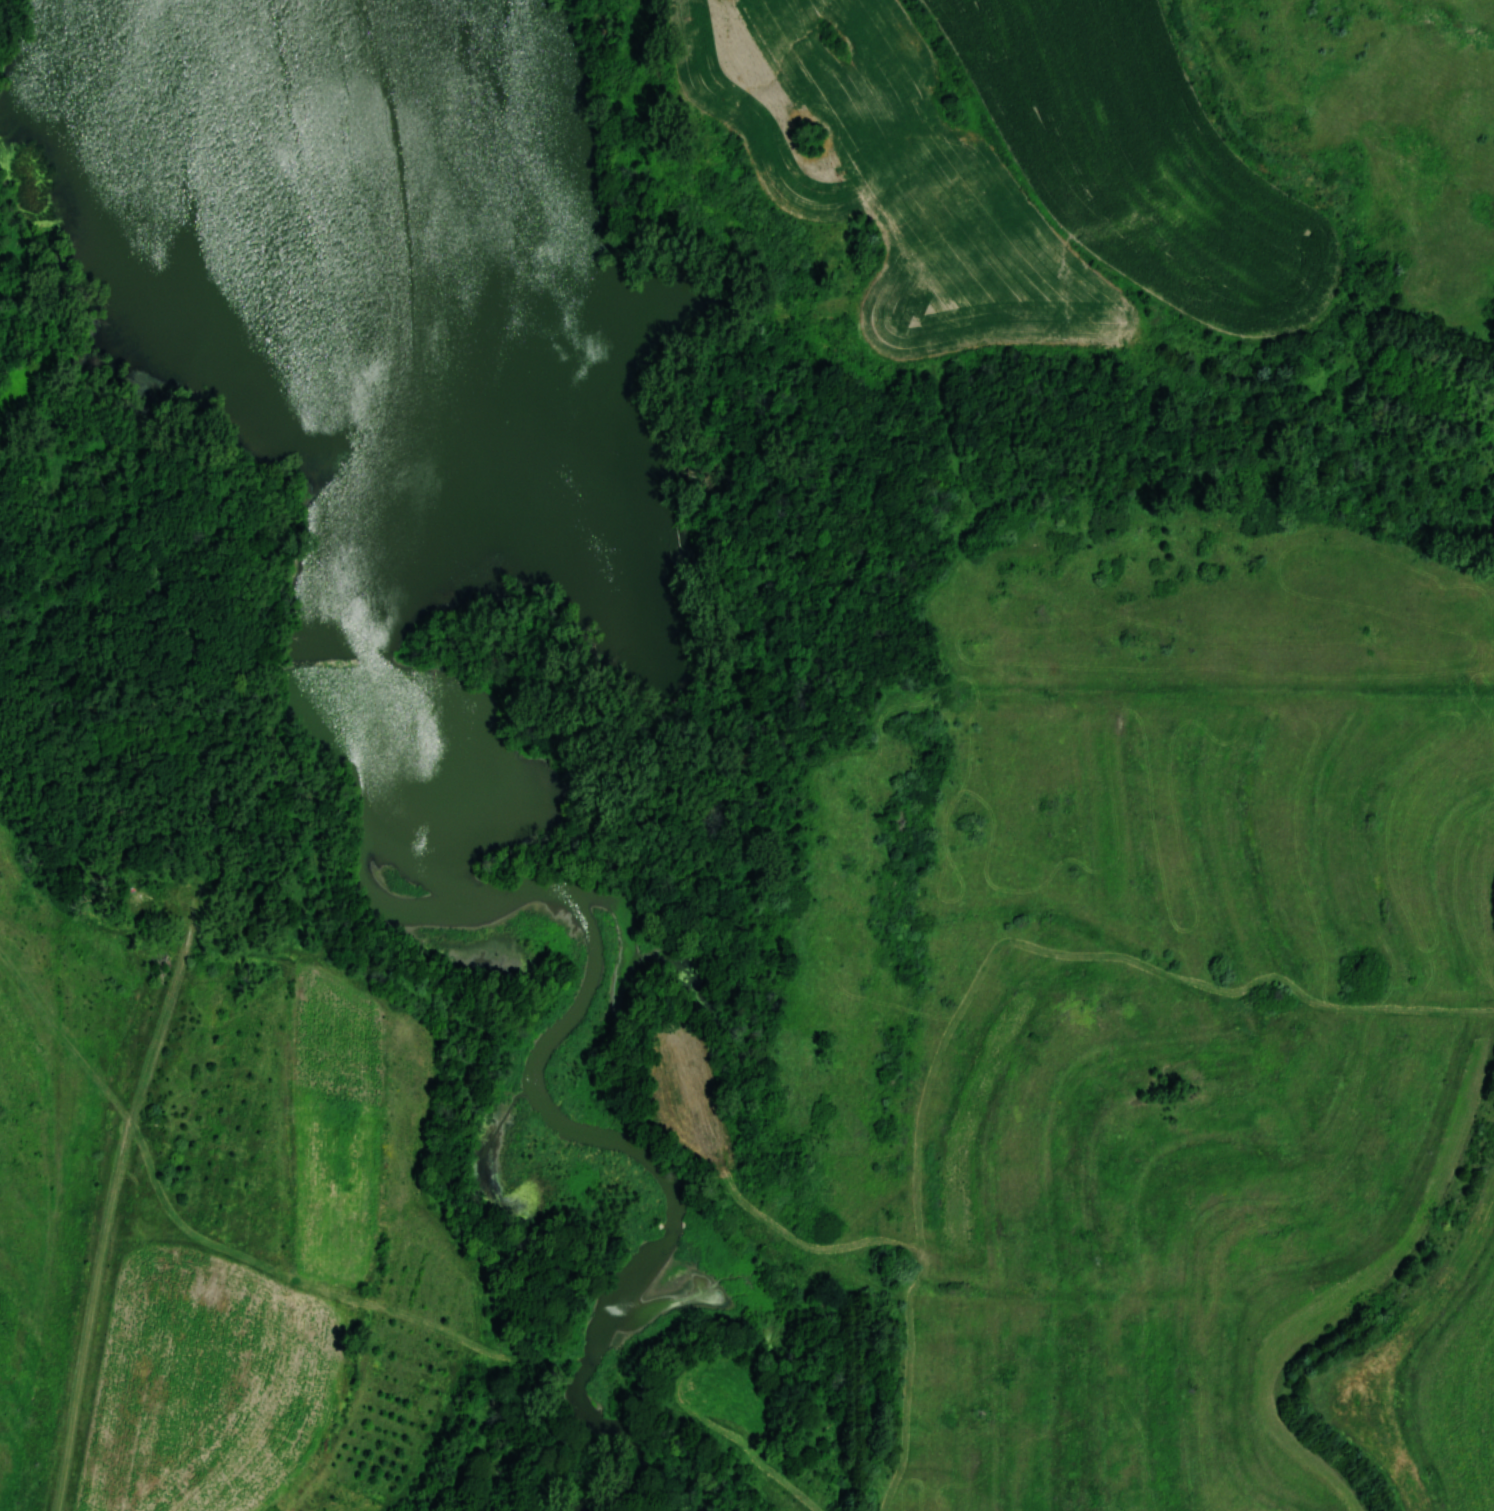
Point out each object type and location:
road: (109, 1218)

